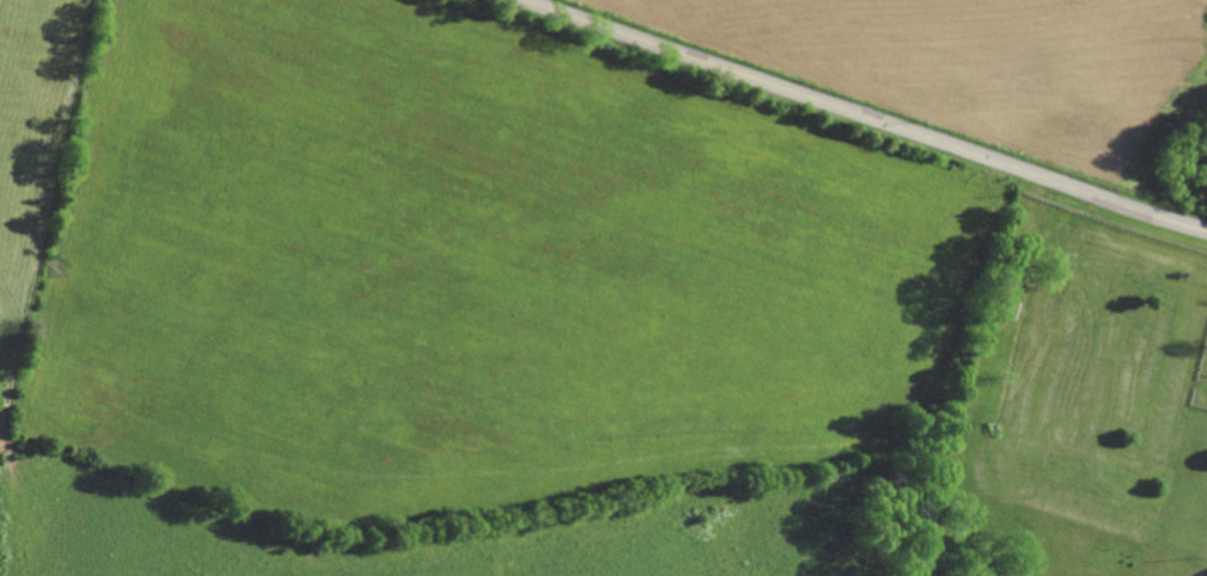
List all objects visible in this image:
road: (862, 116)
road: (45, 219)
building: (1010, 311)

